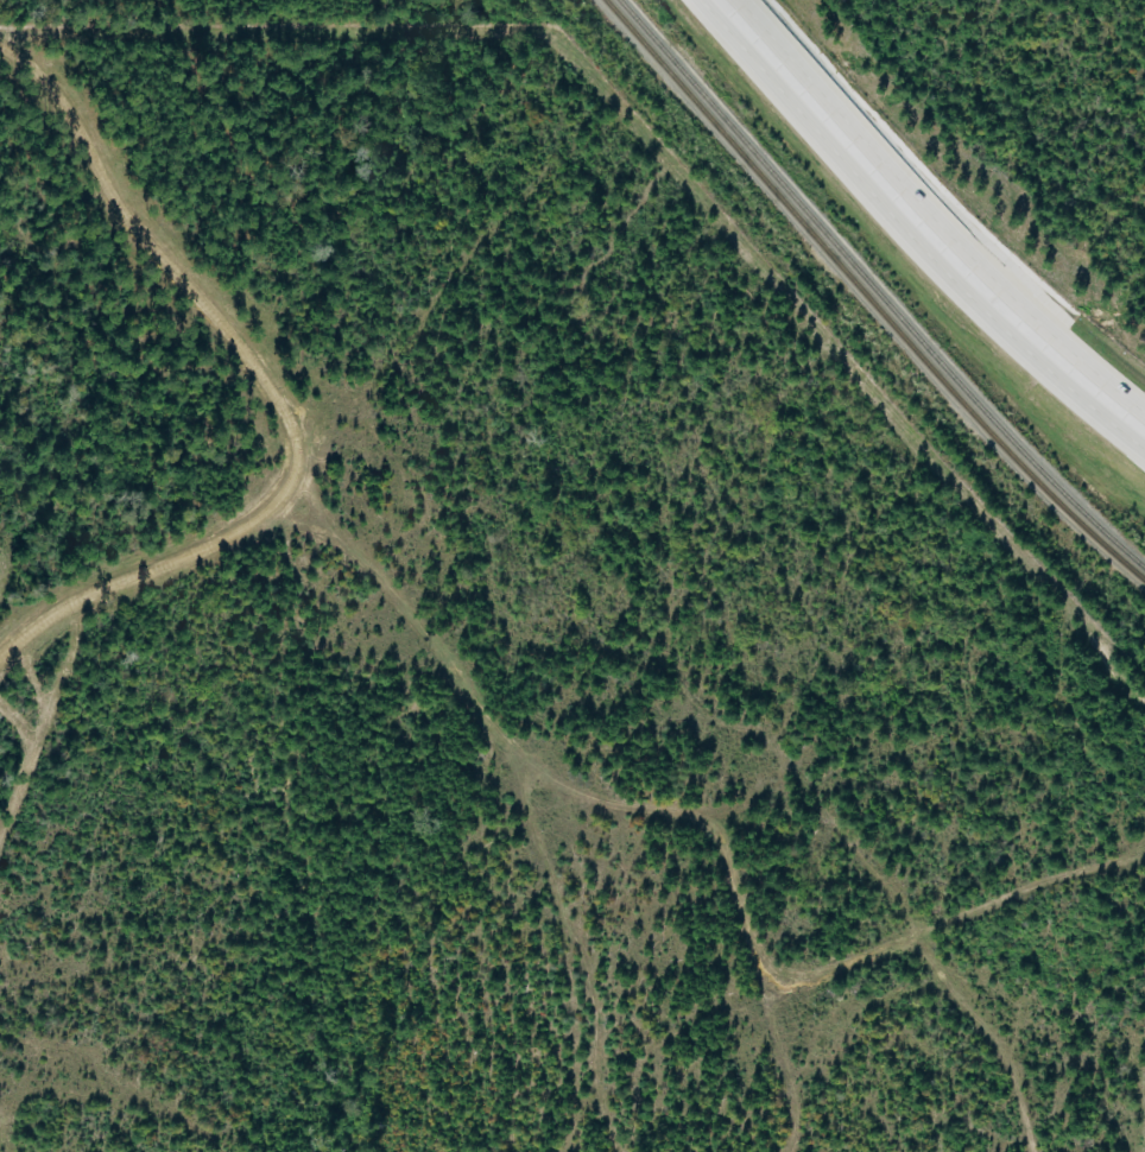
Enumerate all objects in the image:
road: (898, 179)
railway: (875, 291)
railway: (869, 298)
road: (1106, 388)
road: (276, 393)
road: (51, 720)
road: (612, 806)
road: (956, 924)
road: (569, 948)
road: (992, 1038)
road: (139, 1090)

